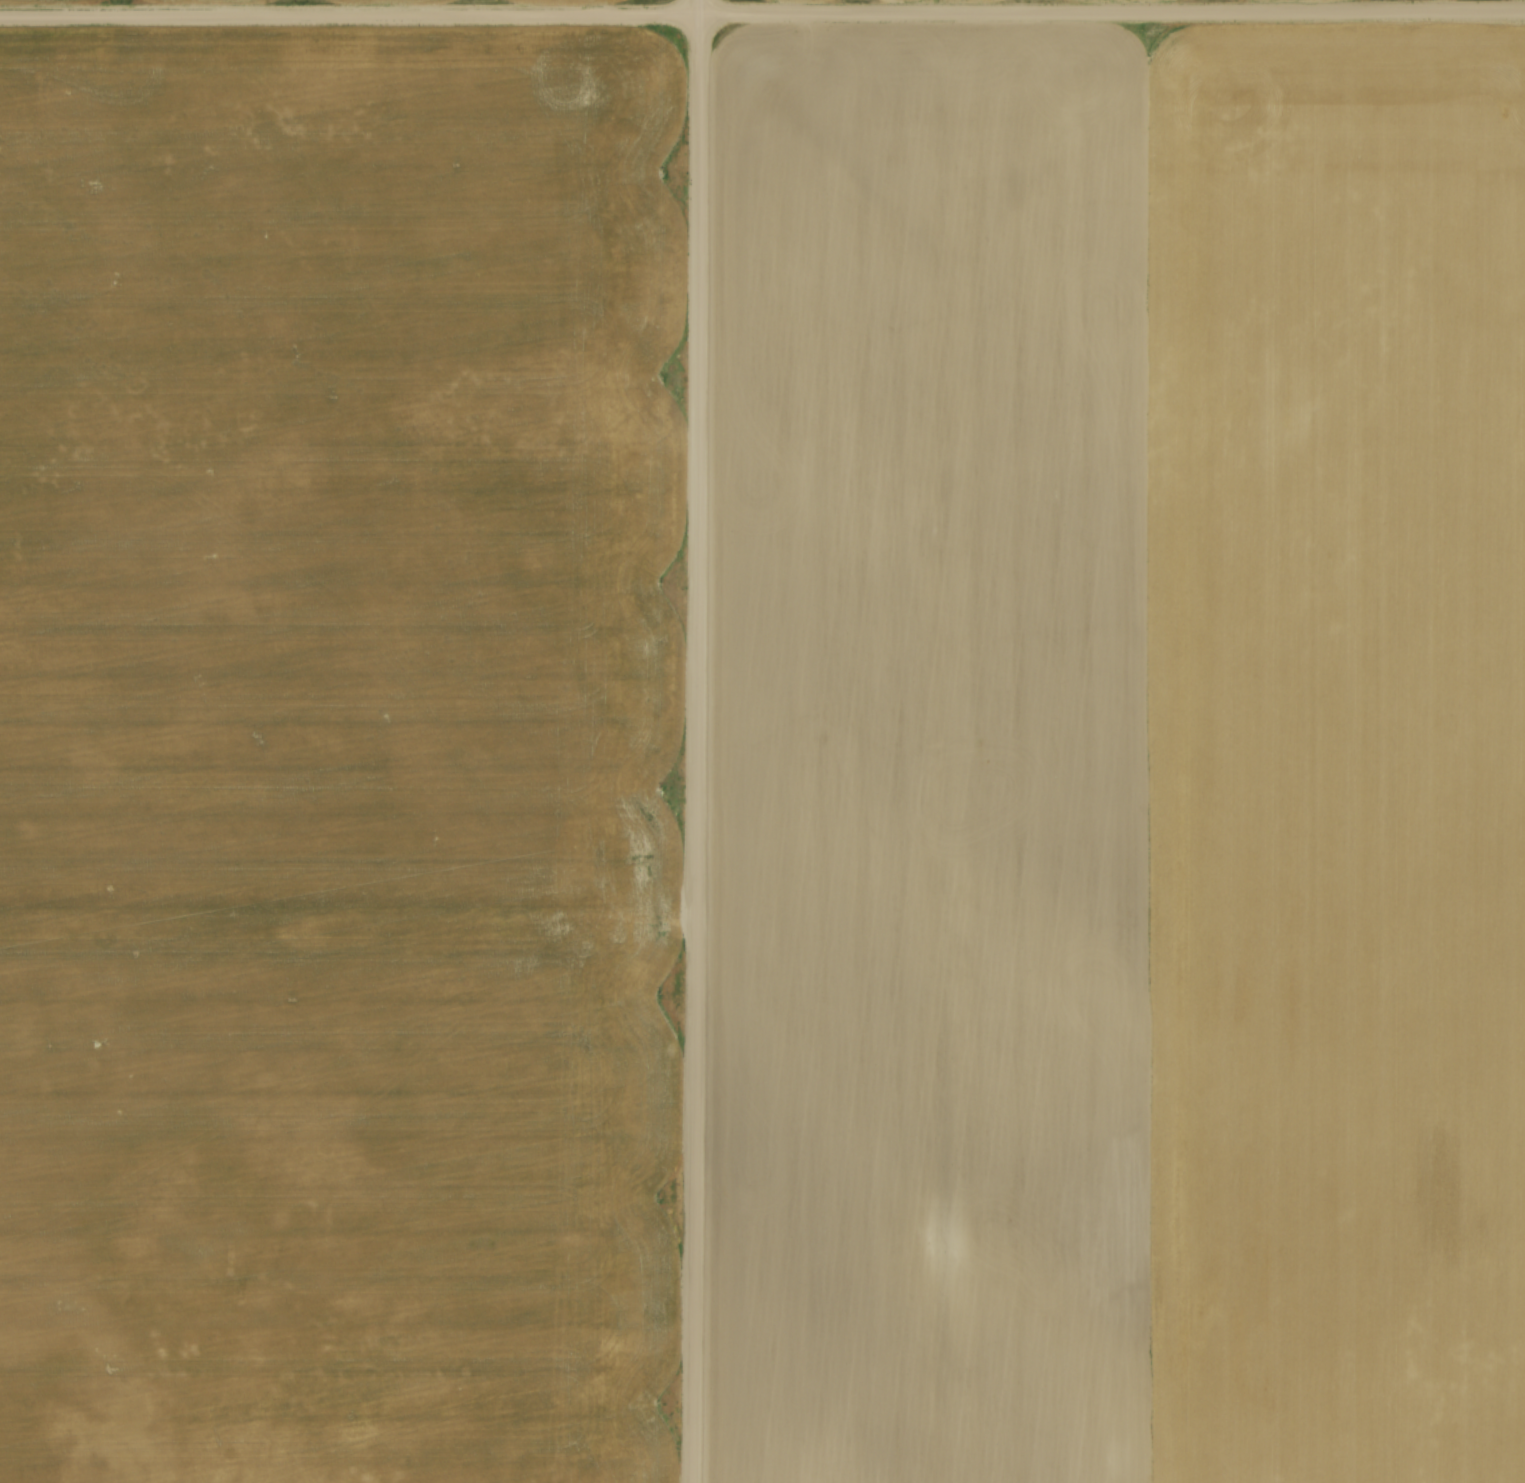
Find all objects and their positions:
road: (762, 12)
road: (698, 741)
crop: (338, 755)
crop: (1120, 755)

